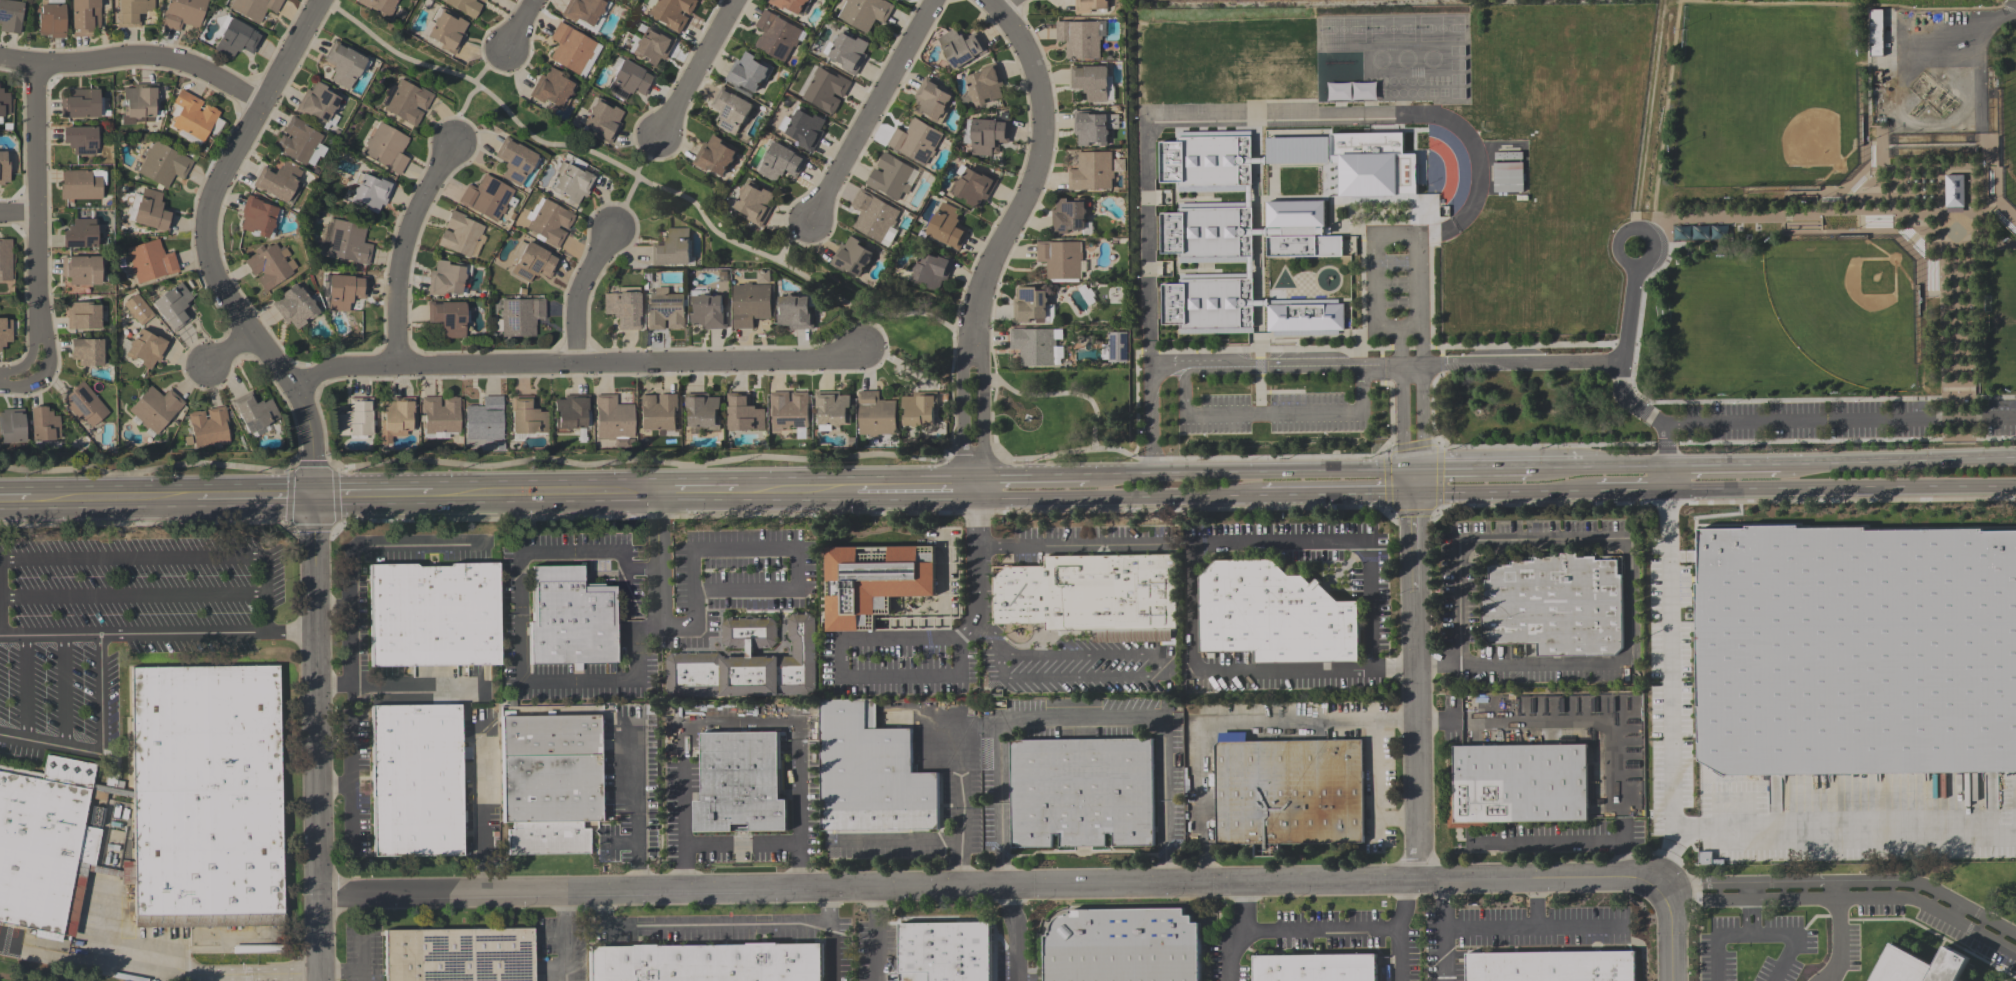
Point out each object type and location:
building: (897, 0)
building: (482, 1)
building: (790, 4)
road: (1006, 5)
building: (1090, 5)
building: (379, 6)
building: (465, 7)
building: (255, 8)
building: (583, 10)
road: (2010, 10)
building: (133, 12)
road: (312, 12)
building: (672, 12)
building: (183, 13)
building: (865, 13)
building: (10, 16)
building: (85, 17)
building: (52, 21)
road: (516, 27)
road: (1910, 29)
building: (446, 31)
building: (1874, 32)
building: (776, 36)
building: (237, 38)
building: (1080, 39)
building: (653, 46)
building: (571, 48)
building: (962, 48)
building: (849, 52)
park: (1405, 54)
road: (134, 60)
building: (345, 64)
road: (697, 69)
building: (748, 72)
building: (630, 81)
building: (1091, 81)
building: (986, 84)
building: (552, 88)
building: (826, 90)
building: (1351, 91)
road: (468, 96)
park: (1766, 98)
building: (932, 100)
building: (406, 102)
building: (318, 103)
road: (1665, 103)
building: (4, 104)
building: (80, 104)
building: (140, 104)
road: (878, 109)
building: (731, 110)
park: (2009, 116)
building: (195, 117)
building: (603, 121)
building: (1093, 128)
building: (803, 129)
building: (1213, 134)
building: (985, 135)
building: (81, 140)
building: (297, 141)
building: (916, 141)
building: (387, 148)
building: (1296, 151)
building: (1507, 155)
building: (715, 156)
road: (1862, 160)
building: (514, 161)
building: (1207, 161)
building: (1258, 161)
building: (782, 163)
building: (163, 164)
building: (4, 168)
road: (1956, 168)
road: (1031, 169)
building: (1092, 171)
building: (1371, 173)
road: (1875, 173)
building: (890, 177)
building: (1507, 177)
building: (574, 181)
building: (279, 182)
road: (635, 182)
building: (82, 184)
building: (973, 186)
building: (371, 192)
road: (1938, 193)
building: (1953, 195)
road: (36, 197)
building: (1248, 197)
building: (487, 198)
road: (1804, 200)
road: (1147, 202)
building: (755, 204)
road: (209, 206)
road: (1985, 206)
building: (152, 211)
building: (874, 216)
building: (1069, 216)
building: (258, 217)
road: (18, 220)
building: (549, 223)
building: (948, 227)
road: (1798, 230)
building: (1299, 231)
building: (1266, 232)
building: (1327, 232)
road: (1634, 232)
building: (1208, 233)
building: (81, 234)
building: (460, 234)
road: (1881, 236)
road: (792, 240)
building: (349, 242)
road: (1985, 244)
road: (403, 248)
building: (673, 249)
building: (853, 257)
building: (1060, 259)
building: (6, 260)
building: (151, 261)
building: (534, 263)
building: (269, 266)
building: (1250, 269)
building: (82, 270)
building: (932, 271)
building: (446, 279)
parking lot: (1396, 281)
building: (345, 291)
road: (580, 294)
road: (1373, 299)
building: (1294, 302)
building: (751, 304)
building: (1209, 304)
building: (1031, 306)
building: (174, 307)
building: (295, 307)
building: (624, 308)
road: (1955, 308)
building: (138, 309)
park: (1846, 309)
building: (665, 310)
road: (892, 311)
building: (708, 312)
building: (795, 313)
building: (83, 317)
building: (520, 317)
building: (448, 318)
building: (1309, 318)
park: (2006, 322)
road: (38, 331)
building: (1213, 331)
building: (5, 332)
building: (1305, 333)
road: (1418, 341)
building: (1036, 346)
building: (147, 348)
building: (1116, 348)
road: (1332, 348)
building: (87, 352)
road: (226, 352)
road: (1624, 357)
road: (1384, 366)
road: (579, 367)
road: (1976, 368)
road: (11, 371)
road: (1381, 372)
road: (1259, 382)
road: (27, 387)
road: (1064, 396)
road: (1624, 402)
road: (1731, 403)
building: (84, 405)
building: (155, 409)
building: (919, 409)
building: (703, 410)
building: (789, 410)
building: (833, 410)
building: (571, 412)
building: (659, 412)
building: (254, 413)
building: (744, 413)
road: (1402, 413)
parking lot: (1274, 414)
building: (876, 415)
road: (1254, 415)
building: (441, 416)
building: (527, 417)
road: (981, 417)
building: (396, 418)
road: (960, 418)
building: (355, 419)
building: (484, 420)
building: (614, 420)
road: (1956, 420)
parking lot: (1837, 421)
road: (1149, 423)
building: (44, 425)
road: (1840, 425)
building: (12, 426)
building: (209, 427)
road: (1418, 429)
road: (305, 440)
road: (1680, 444)
road: (1665, 460)
road: (1897, 461)
road: (1722, 465)
road: (1623, 467)
road: (1475, 468)
road: (1556, 468)
traffic signals: (1404, 469)
traffic signals: (1419, 469)
road: (1284, 470)
road: (1119, 473)
road: (1030, 474)
road: (1840, 487)
road: (915, 488)
road: (796, 490)
road: (1630, 490)
road: (696, 491)
road: (1505, 492)
road: (544, 493)
traffic signals: (1416, 493)
road: (1338, 494)
road: (373, 495)
traffic signals: (315, 496)
road: (256, 497)
road: (1115, 497)
road: (113, 499)
road: (15, 500)
road: (1070, 543)
road: (1215, 544)
road: (758, 545)
road: (1629, 555)
road: (352, 557)
road: (166, 558)
building: (874, 584)
road: (133, 597)
building: (1093, 597)
road: (334, 606)
building: (1557, 606)
building: (434, 615)
building: (1274, 616)
building: (570, 619)
road: (208, 631)
road: (49, 634)
road: (996, 647)
building: (1855, 650)
building: (748, 663)
road: (1159, 665)
road: (1669, 671)
road: (922, 678)
road: (535, 681)
road: (28, 686)
road: (1418, 688)
road: (65, 690)
road: (1064, 714)
road: (1579, 720)
road: (1434, 721)
road: (1231, 727)
road: (319, 738)
road: (798, 743)
road: (100, 744)
road: (351, 749)
building: (871, 773)
building: (417, 781)
building: (550, 783)
road: (336, 785)
building: (740, 785)
building: (1518, 785)
building: (1288, 792)
road: (1374, 792)
building: (206, 794)
building: (1082, 794)
road: (1002, 803)
road: (483, 809)
road: (683, 811)
road: (636, 815)
road: (1857, 829)
road: (1552, 840)
road: (900, 841)
road: (741, 843)
road: (1624, 850)
building: (39, 851)
road: (1667, 855)
road: (1845, 880)
road: (991, 885)
road: (1749, 891)
road: (1846, 898)
road: (1955, 910)
road: (1511, 926)
road: (1576, 927)
road: (696, 928)
road: (1338, 930)
road: (1663, 931)
road: (1233, 932)
road: (1443, 932)
road: (831, 933)
road: (876, 933)
road: (1013, 933)
road: (1749, 933)
road: (563, 934)
road: (1835, 937)
road: (1794, 940)
road: (1713, 942)
building: (1123, 945)
road: (362, 951)
building: (945, 952)
road: (1396, 955)
building: (458, 956)
building: (1919, 962)
building: (708, 963)
building: (1550, 967)
building: (1314, 968)
road: (346, 972)
road: (182, 973)
building: (2006, 979)

